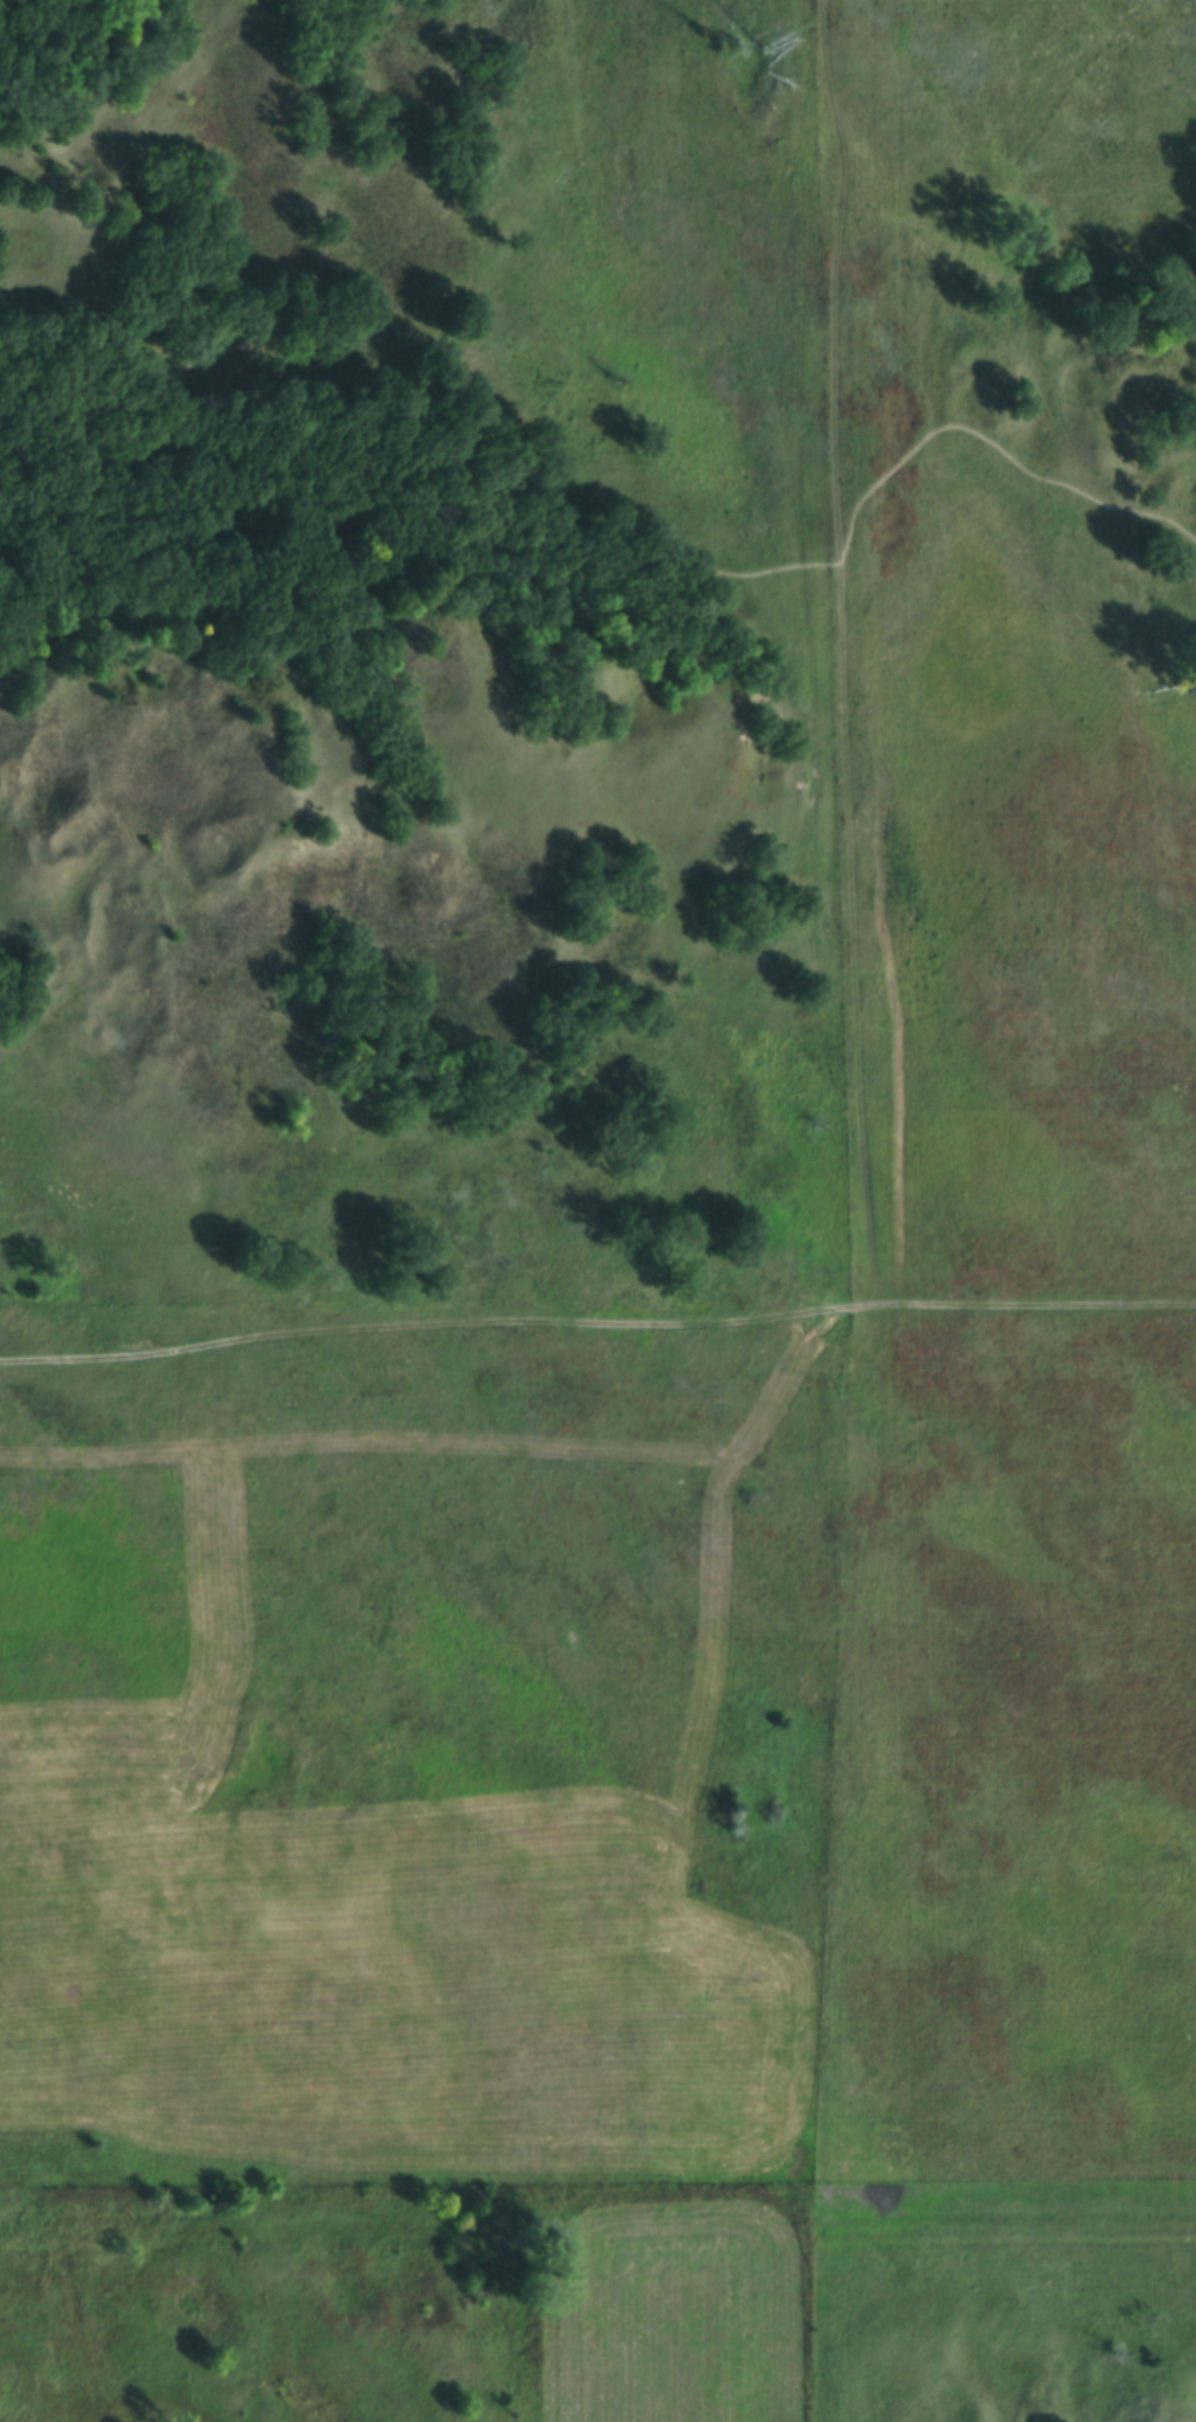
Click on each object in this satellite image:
road: (616, 525)

